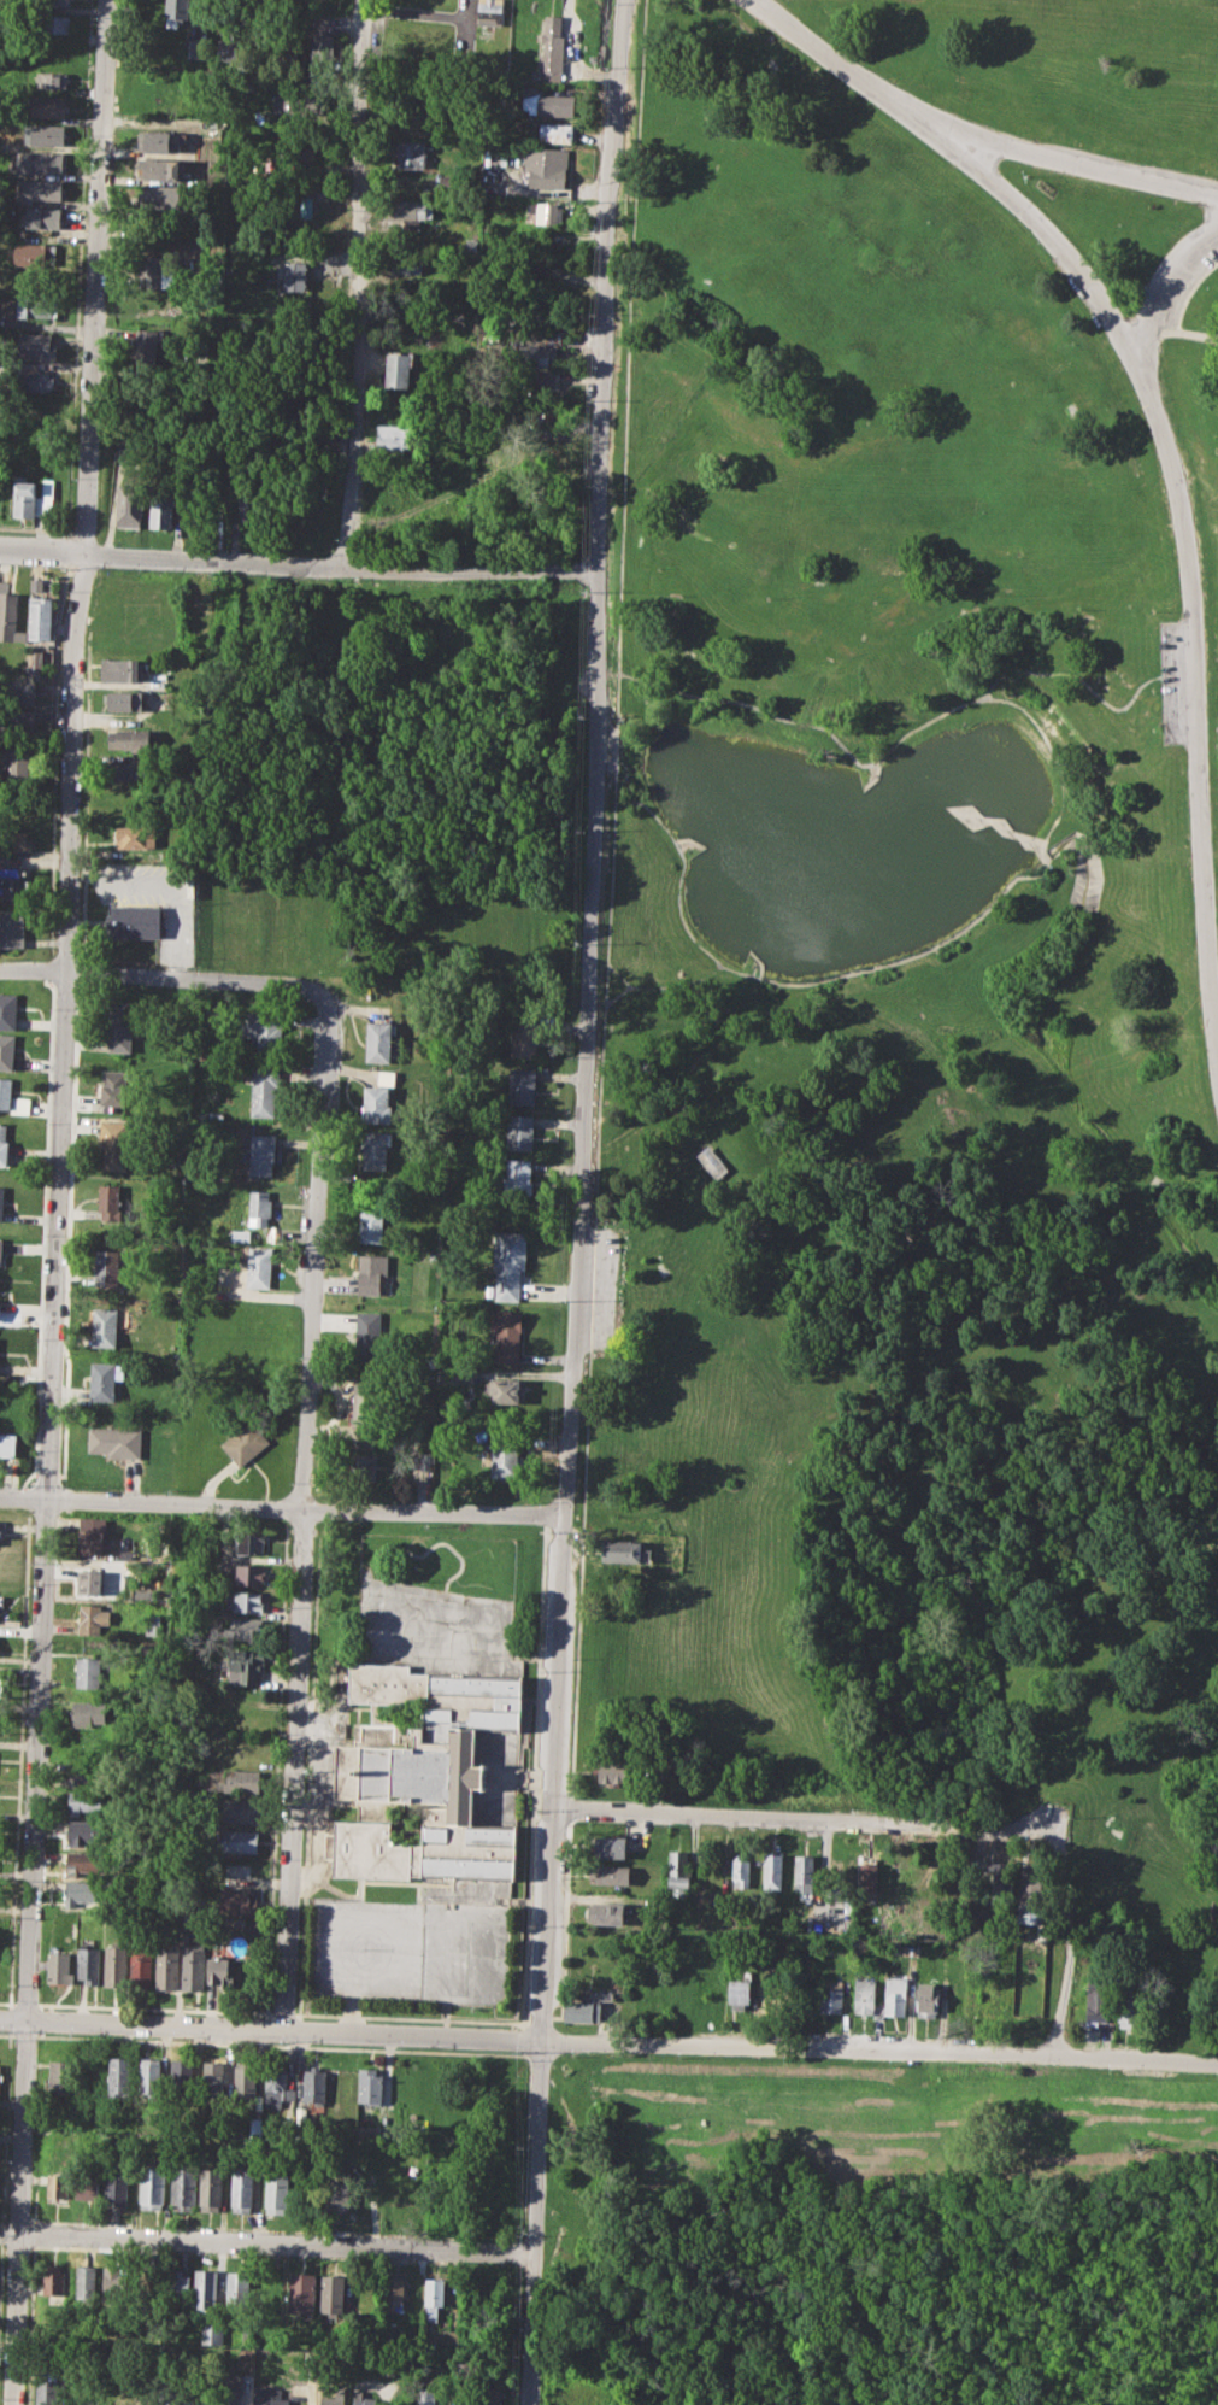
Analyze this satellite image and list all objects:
building: (53, 2)
street lamp: (611, 4)
building: (492, 10)
building: (176, 12)
building: (53, 24)
building: (323, 47)
building: (196, 48)
building: (228, 49)
building: (552, 51)
road: (842, 65)
building: (52, 80)
building: (160, 83)
building: (547, 101)
building: (304, 102)
building: (47, 106)
building: (422, 107)
building: (557, 133)
building: (45, 134)
building: (160, 140)
building: (412, 154)
building: (41, 162)
road: (1076, 162)
building: (549, 168)
building: (159, 169)
building: (39, 189)
building: (164, 196)
building: (294, 205)
building: (412, 211)
building: (551, 211)
building: (40, 217)
building: (34, 256)
building: (402, 264)
building: (154, 270)
building: (294, 274)
road: (1165, 282)
road: (359, 283)
building: (36, 305)
building: (36, 346)
building: (146, 346)
building: (540, 356)
building: (401, 368)
building: (31, 380)
building: (541, 380)
building: (396, 435)
building: (548, 451)
building: (30, 497)
building: (129, 505)
building: (212, 506)
building: (161, 508)
building: (248, 511)
road: (1187, 550)
road: (299, 565)
building: (39, 612)
building: (8, 616)
building: (198, 617)
building: (35, 659)
building: (122, 669)
building: (22, 692)
building: (125, 700)
building: (17, 720)
road: (914, 728)
building: (128, 738)
road: (616, 743)
road: (1053, 753)
building: (17, 762)
building: (129, 770)
road: (951, 810)
building: (136, 837)
building: (14, 839)
road: (166, 882)
building: (14, 884)
parking lot: (153, 898)
park: (932, 903)
building: (134, 921)
building: (11, 926)
road: (160, 976)
road: (606, 984)
building: (8, 1010)
building: (120, 1025)
building: (261, 1028)
building: (523, 1038)
building: (377, 1042)
building: (6, 1050)
building: (520, 1085)
building: (116, 1086)
building: (265, 1091)
building: (12, 1098)
building: (376, 1103)
building: (518, 1133)
building: (116, 1143)
building: (4, 1148)
building: (375, 1149)
building: (261, 1154)
building: (711, 1161)
building: (517, 1175)
building: (1, 1202)
road: (59, 1202)
building: (110, 1202)
road: (583, 1202)
building: (259, 1207)
building: (371, 1224)
building: (0, 1245)
building: (507, 1263)
building: (258, 1266)
building: (108, 1267)
building: (371, 1272)
building: (105, 1326)
building: (367, 1331)
building: (505, 1333)
building: (106, 1379)
road: (587, 1385)
building: (508, 1391)
building: (366, 1404)
building: (246, 1441)
building: (116, 1442)
building: (11, 1444)
building: (505, 1454)
building: (424, 1460)
building: (361, 1467)
road: (283, 1507)
road: (301, 1513)
building: (2, 1529)
building: (89, 1542)
building: (251, 1543)
building: (620, 1549)
building: (125, 1555)
building: (249, 1574)
building: (88, 1582)
building: (248, 1601)
building: (92, 1619)
building: (153, 1625)
building: (246, 1629)
building: (243, 1665)
building: (87, 1671)
building: (88, 1713)
road: (276, 1768)
building: (84, 1770)
building: (613, 1770)
road: (308, 1773)
building: (420, 1777)
building: (231, 1781)
building: (83, 1800)
road: (570, 1809)
building: (240, 1811)
road: (808, 1822)
building: (82, 1832)
building: (239, 1841)
building: (611, 1846)
building: (83, 1861)
building: (679, 1870)
building: (740, 1870)
building: (773, 1871)
building: (804, 1873)
building: (613, 1875)
building: (869, 1877)
building: (1001, 1884)
building: (84, 1891)
building: (236, 1902)
building: (606, 1912)
road: (564, 1924)
road: (1063, 1947)
building: (911, 1949)
building: (88, 1964)
building: (114, 1965)
building: (141, 1965)
building: (193, 1965)
building: (59, 1967)
building: (166, 1967)
building: (219, 1971)
building: (741, 1989)
building: (831, 1994)
building: (990, 1994)
building: (767, 1995)
building: (896, 1995)
building: (866, 1998)
road: (7, 2000)
building: (928, 2000)
road: (24, 2001)
building: (1099, 2001)
road: (153, 2007)
building: (586, 2008)
building: (1129, 2008)
road: (282, 2013)
road: (416, 2017)
road: (542, 2017)
road: (608, 2042)
building: (60, 2076)
building: (119, 2076)
building: (149, 2076)
building: (182, 2078)
building: (213, 2078)
building: (243, 2082)
building: (316, 2084)
building: (277, 2086)
building: (370, 2086)
building: (257, 2125)
building: (372, 2133)
building: (88, 2182)
building: (118, 2184)
building: (154, 2186)
building: (184, 2186)
building: (58, 2187)
building: (213, 2189)
building: (242, 2189)
building: (277, 2193)
building: (339, 2195)
building: (398, 2202)
park: (887, 2217)
road: (267, 2241)
building: (53, 2280)
building: (87, 2281)
building: (173, 2281)
building: (116, 2282)
building: (237, 2288)
building: (206, 2290)
building: (331, 2292)
building: (396, 2292)
building: (300, 2294)
building: (431, 2297)
building: (212, 2333)
building: (388, 2368)
building: (112, 2391)
building: (582, 2391)
building: (47, 2392)
building: (140, 2393)
building: (172, 2393)
building: (489, 2394)
building: (426, 2395)
building: (271, 2397)
building: (231, 2398)
building: (334, 2398)
building: (363, 2399)

